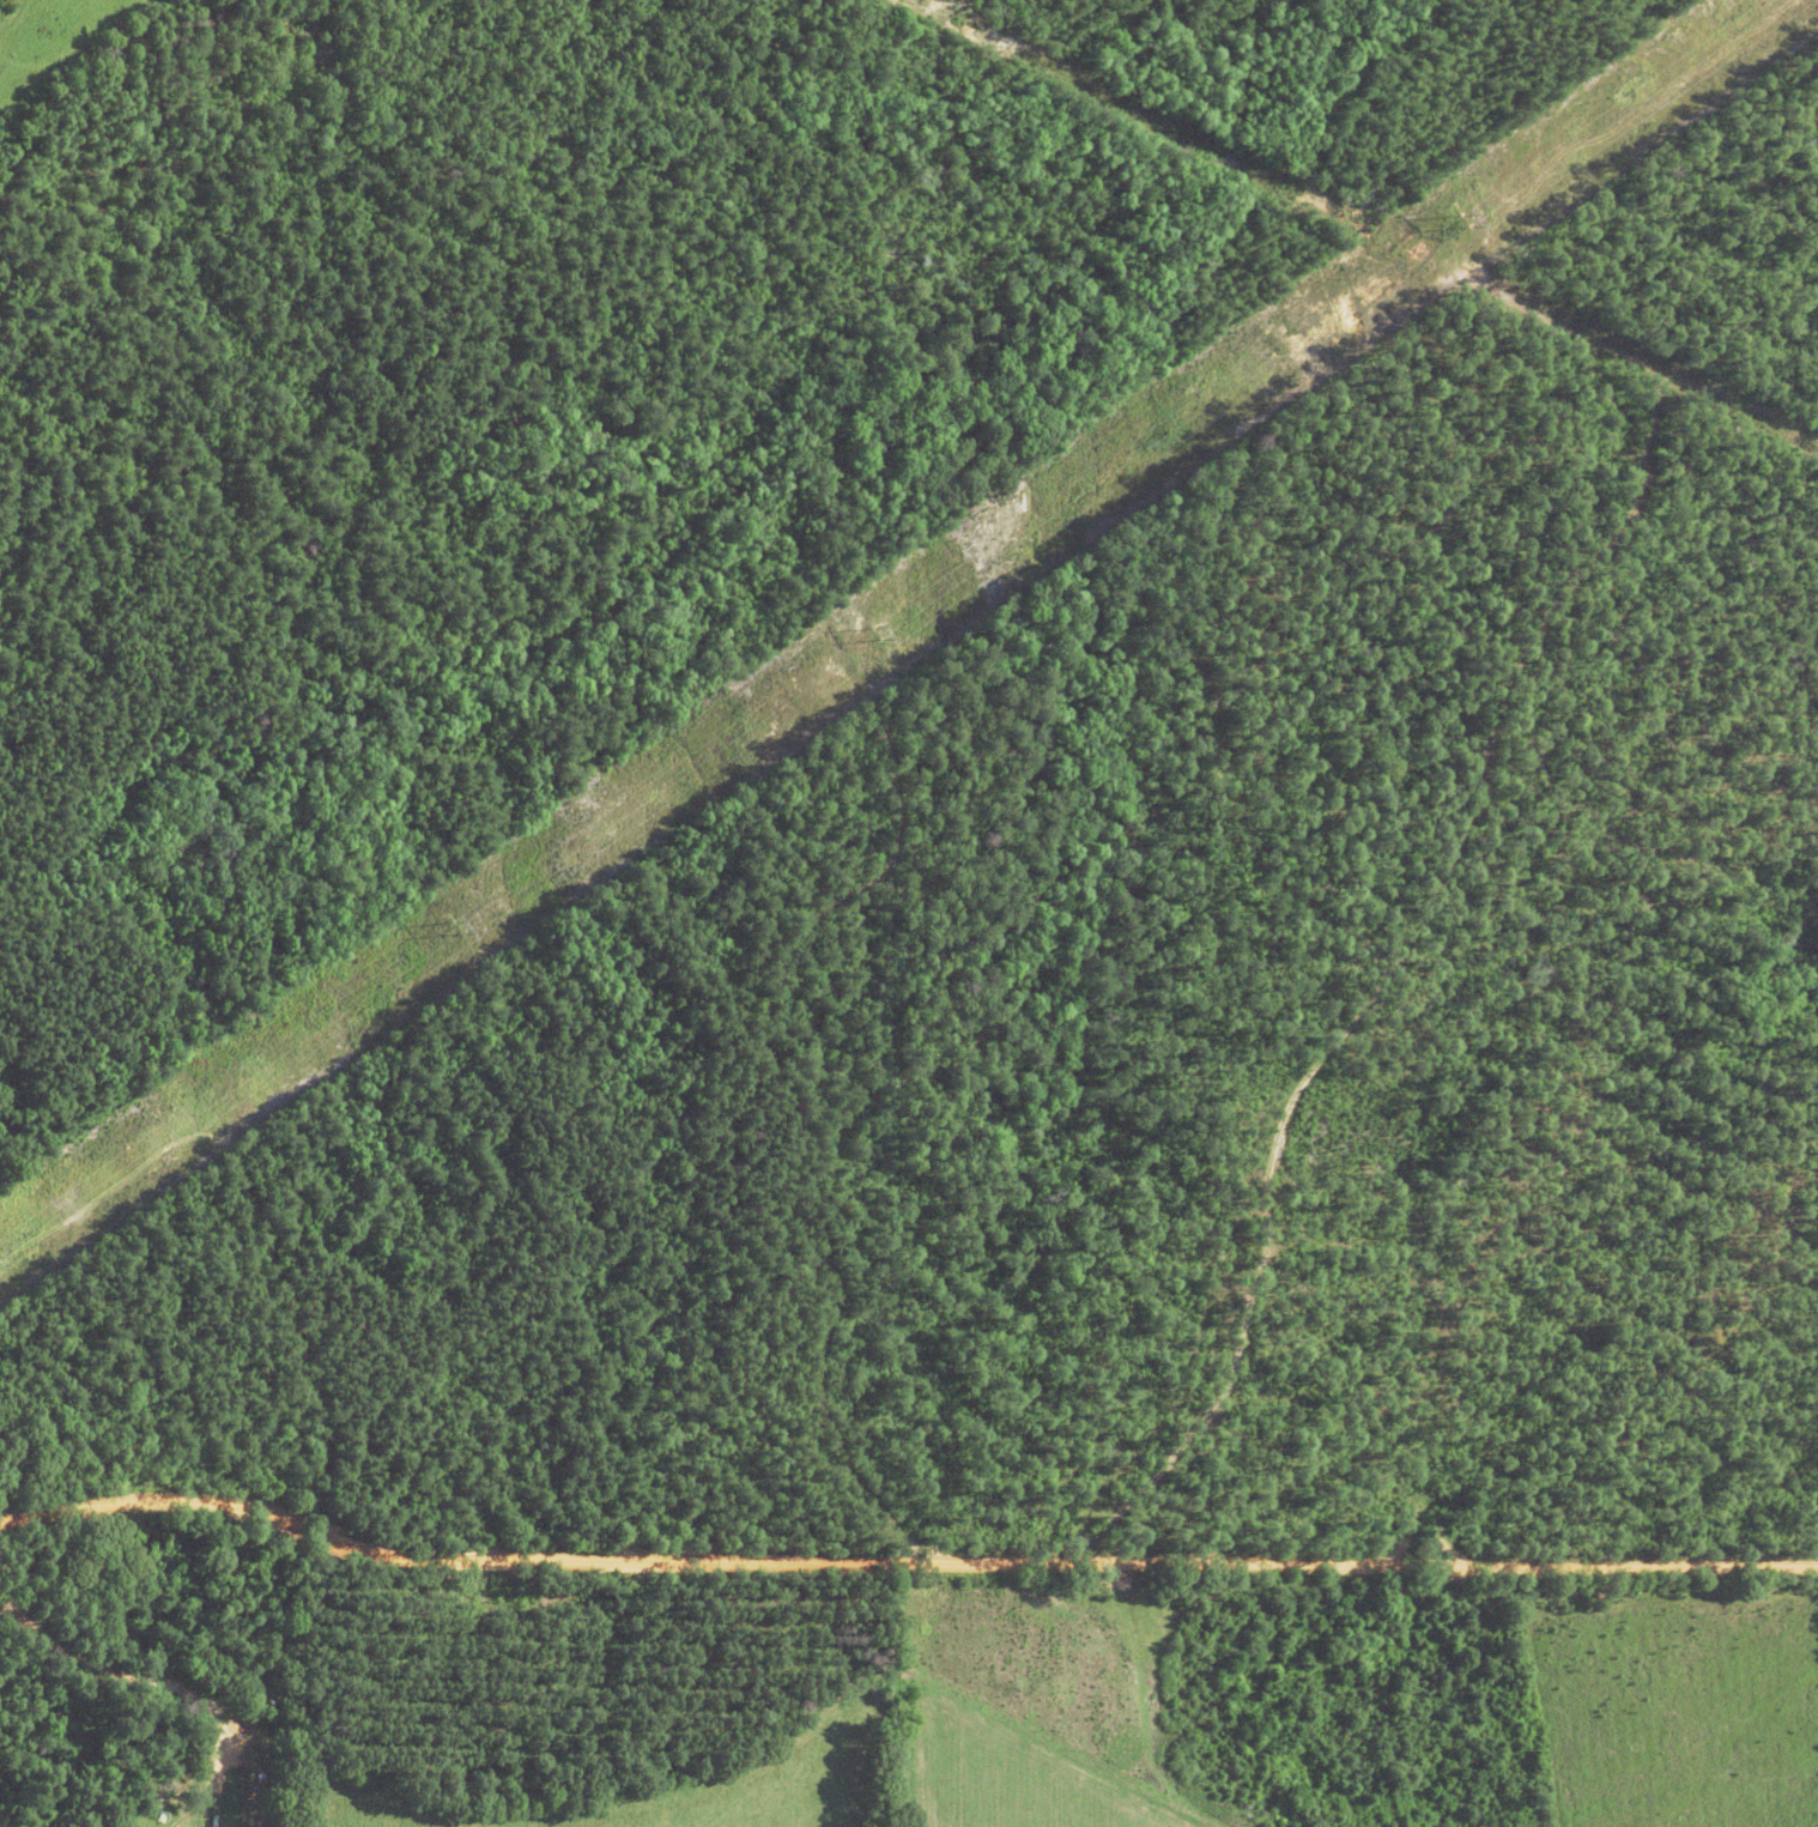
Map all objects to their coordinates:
power tower: (1465, 223)
power tower: (880, 634)
power tower: (456, 931)
road: (903, 1562)

